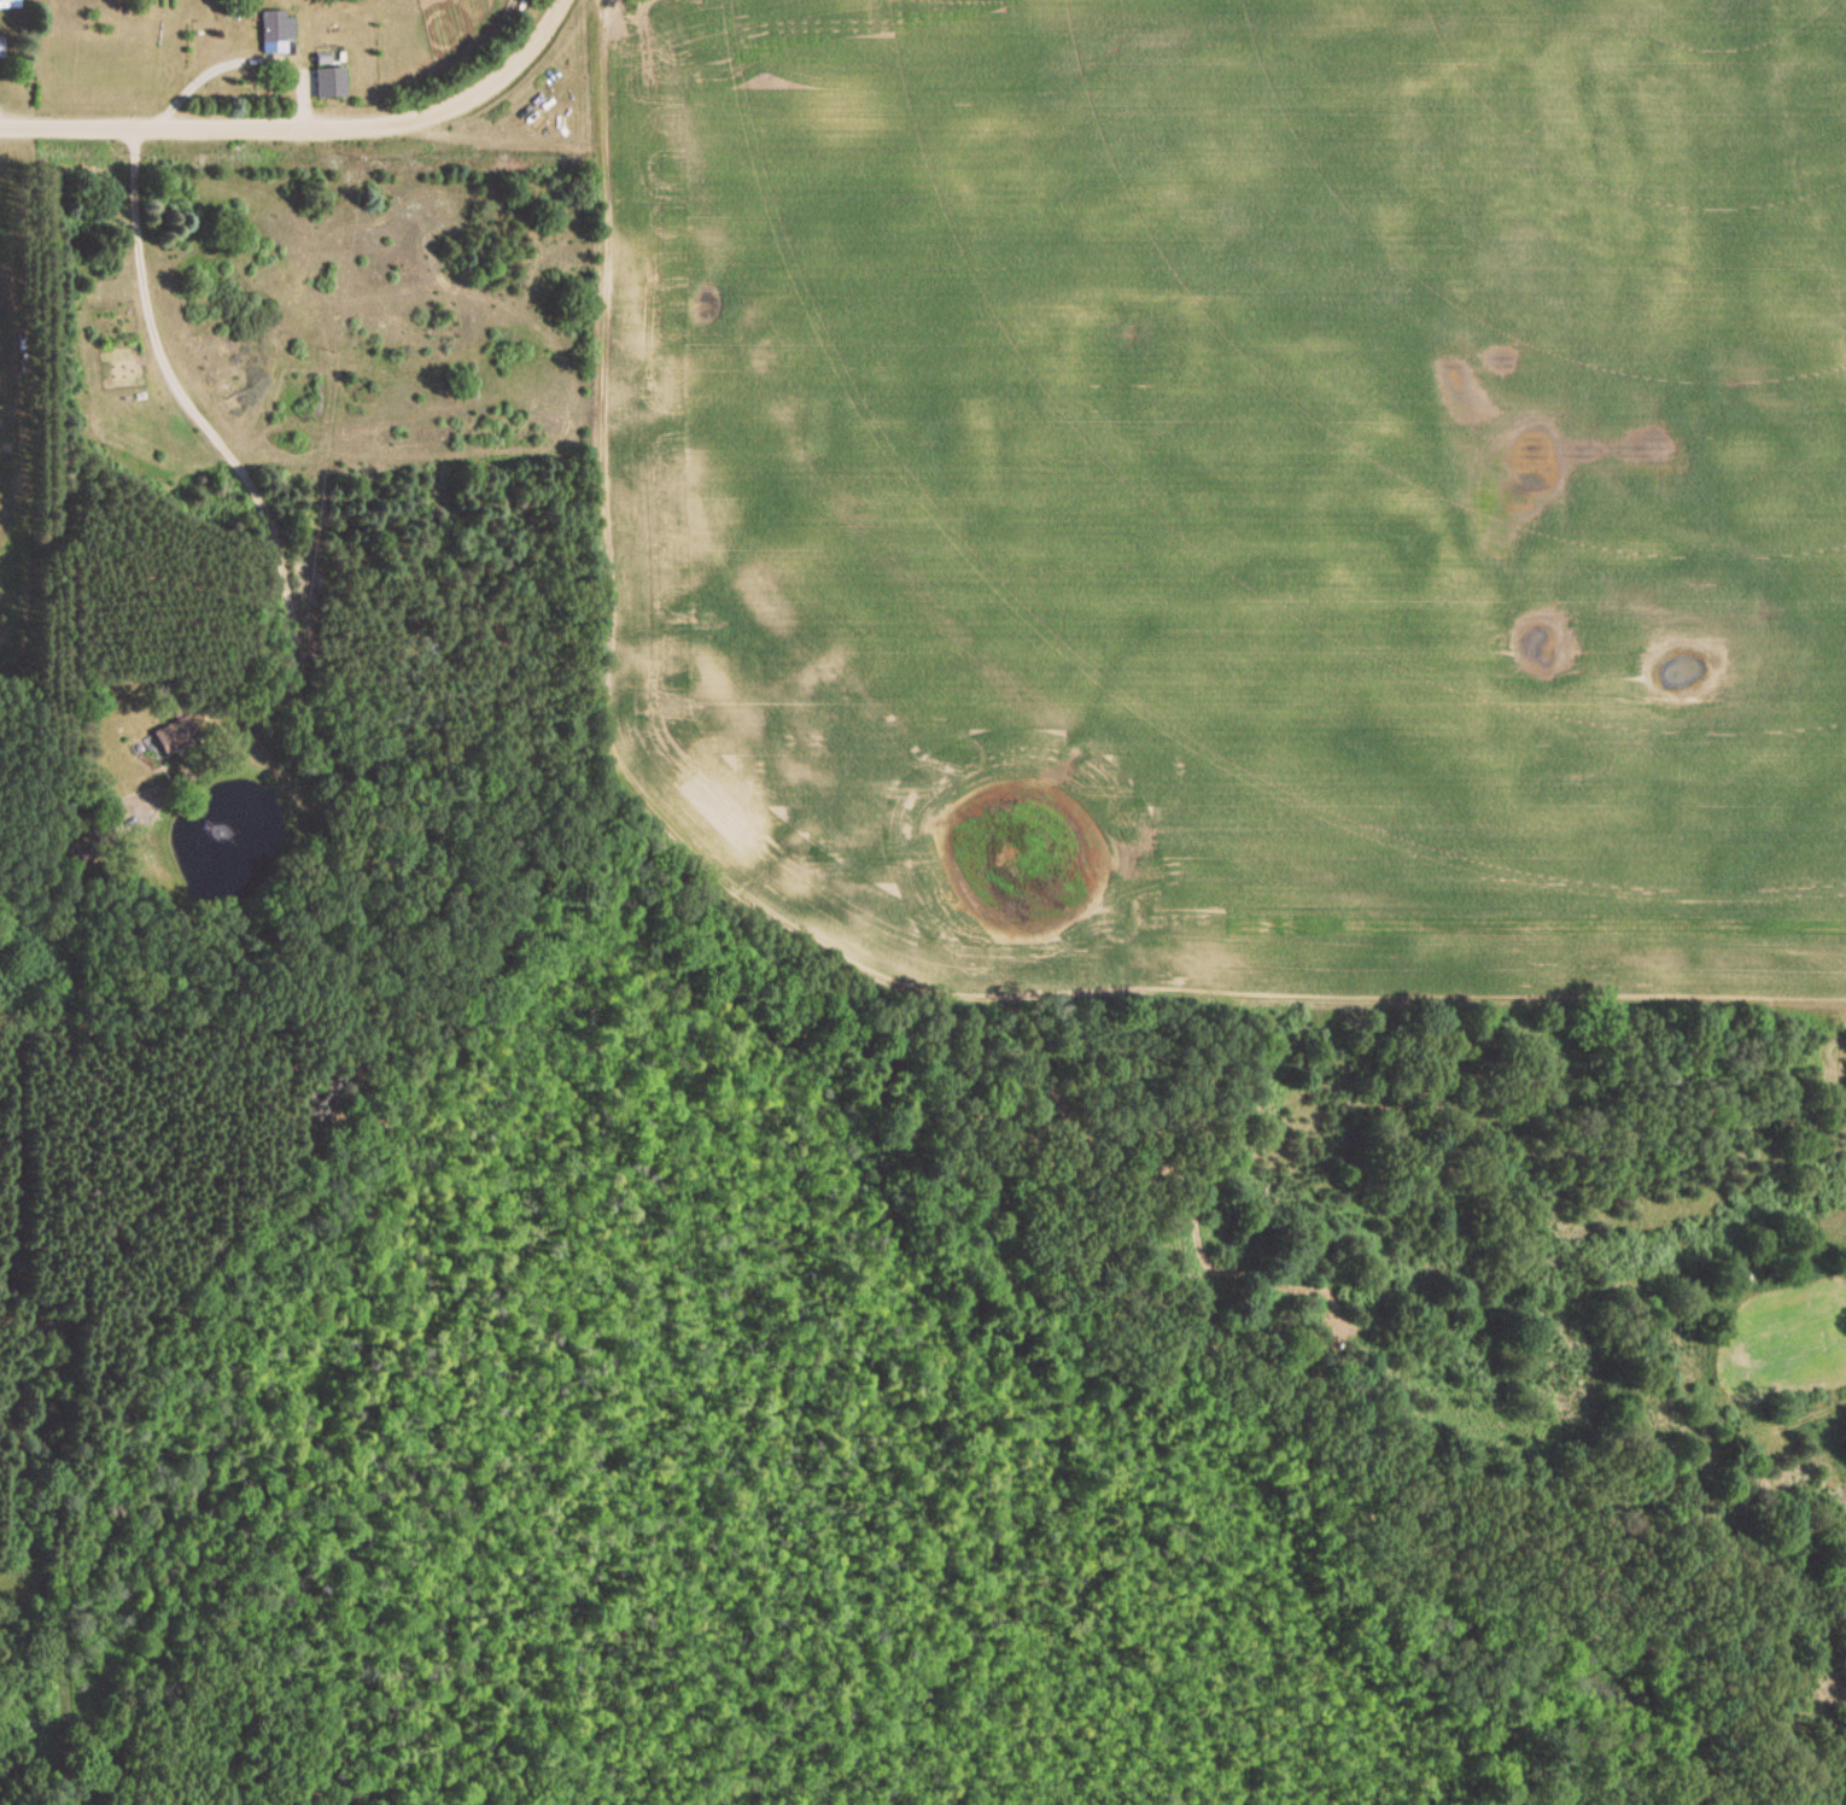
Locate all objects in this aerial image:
building: (8, 5)
road: (550, 17)
building: (274, 34)
building: (1, 48)
building: (326, 84)
road: (286, 130)
road: (228, 486)
building: (162, 738)

